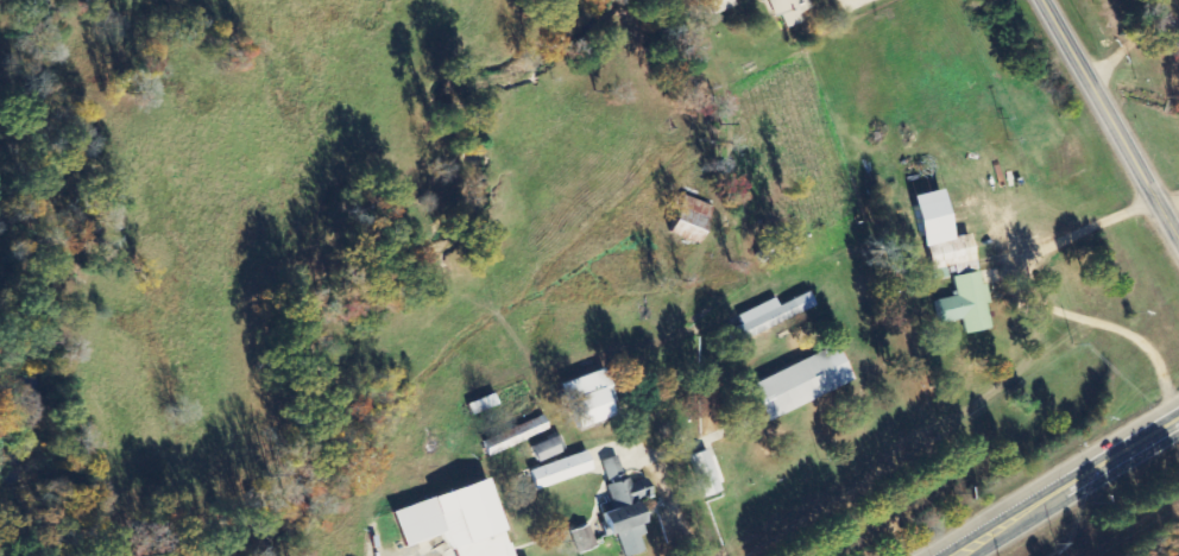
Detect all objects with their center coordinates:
building: (1177, 2)
building: (715, 6)
building: (783, 10)
road: (1110, 121)
building: (685, 219)
building: (946, 265)
building: (767, 315)
building: (797, 383)
building: (582, 399)
building: (512, 436)
building: (542, 448)
building: (555, 469)
building: (701, 473)
road: (1070, 489)
building: (619, 506)
building: (449, 520)
building: (578, 538)

